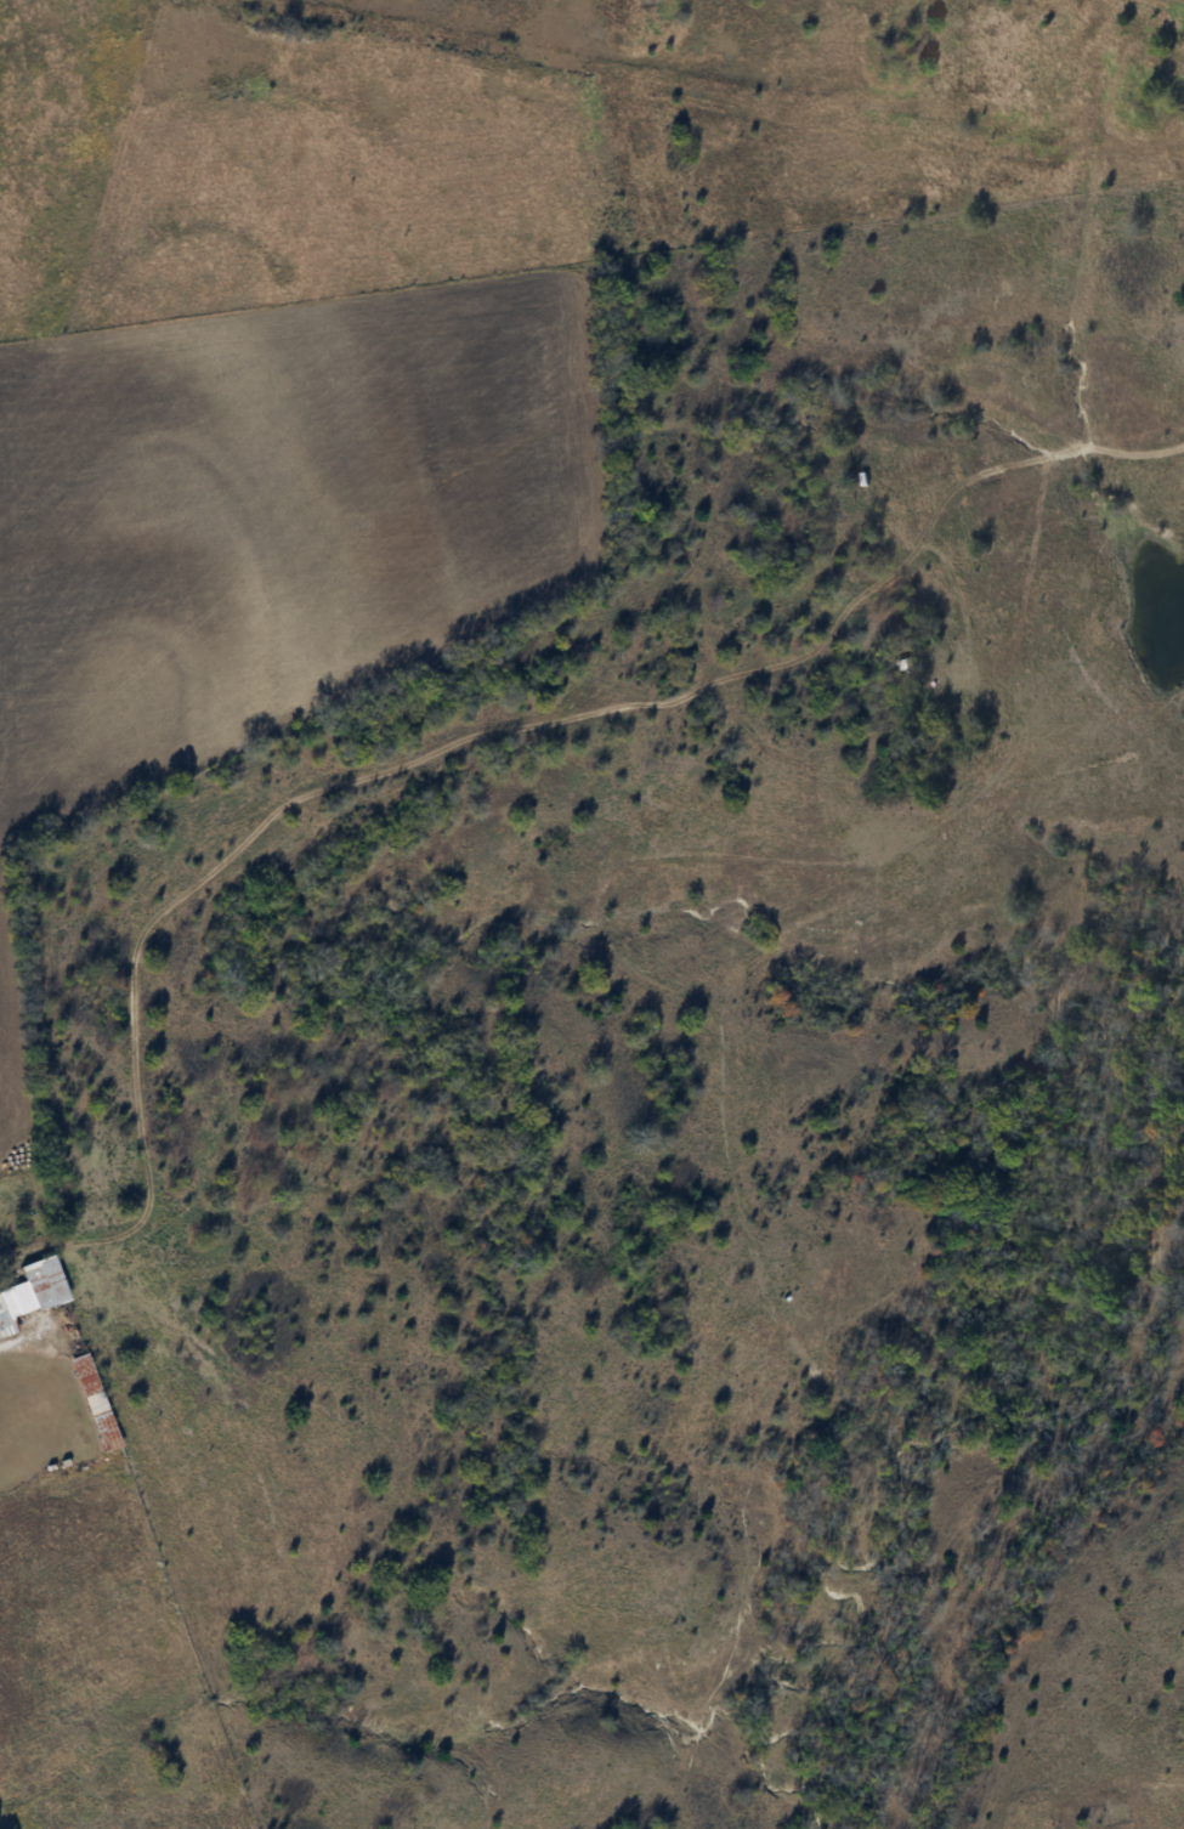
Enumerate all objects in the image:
building: (30, 1293)
building: (95, 1404)

